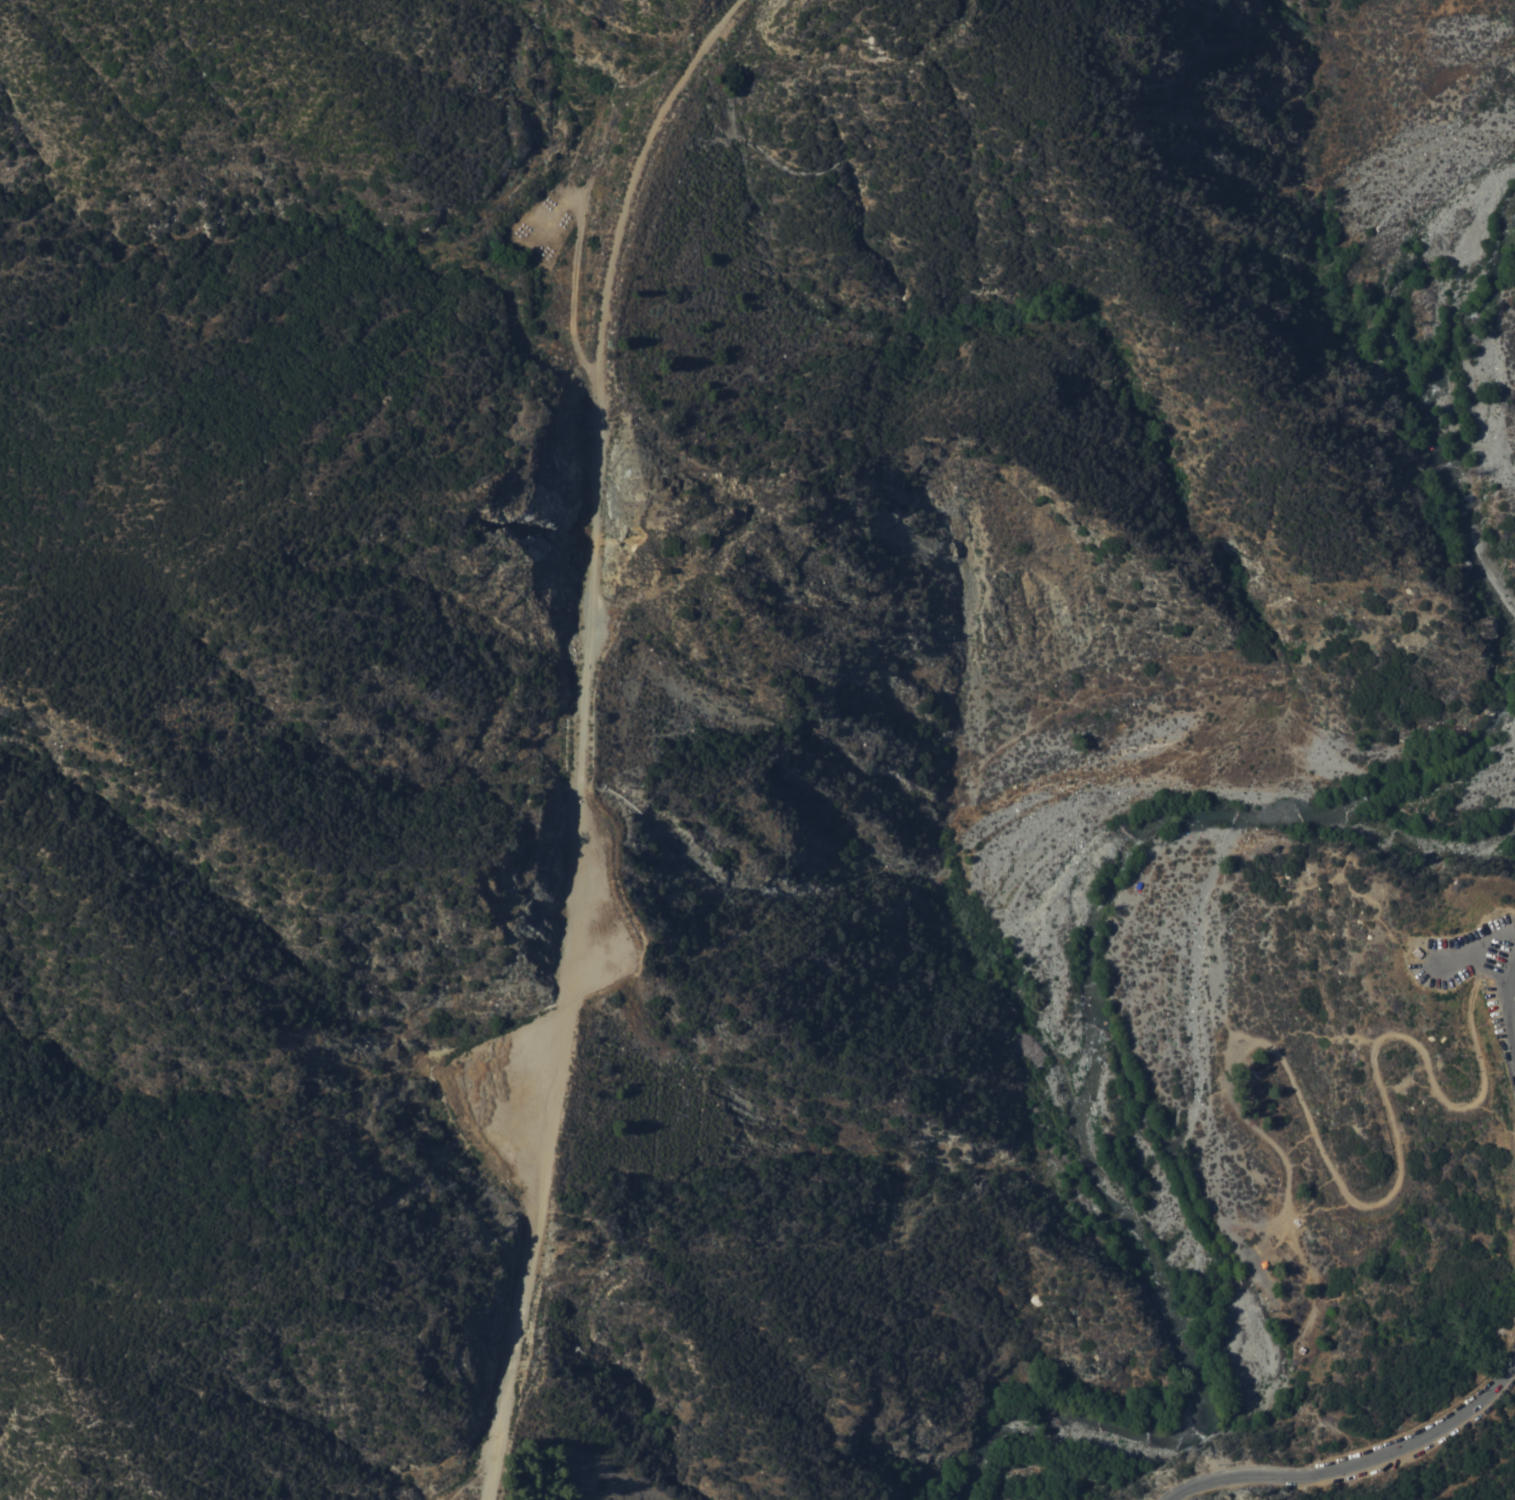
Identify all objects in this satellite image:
river: (1432, 384)
road: (578, 733)
road: (1312, 884)
building: (1416, 954)
road: (1476, 960)
road: (1456, 962)
road: (1477, 974)
parking lot: (1478, 974)
road: (1508, 1010)
river: (1120, 1067)
road: (1337, 1178)
road: (1357, 1462)

